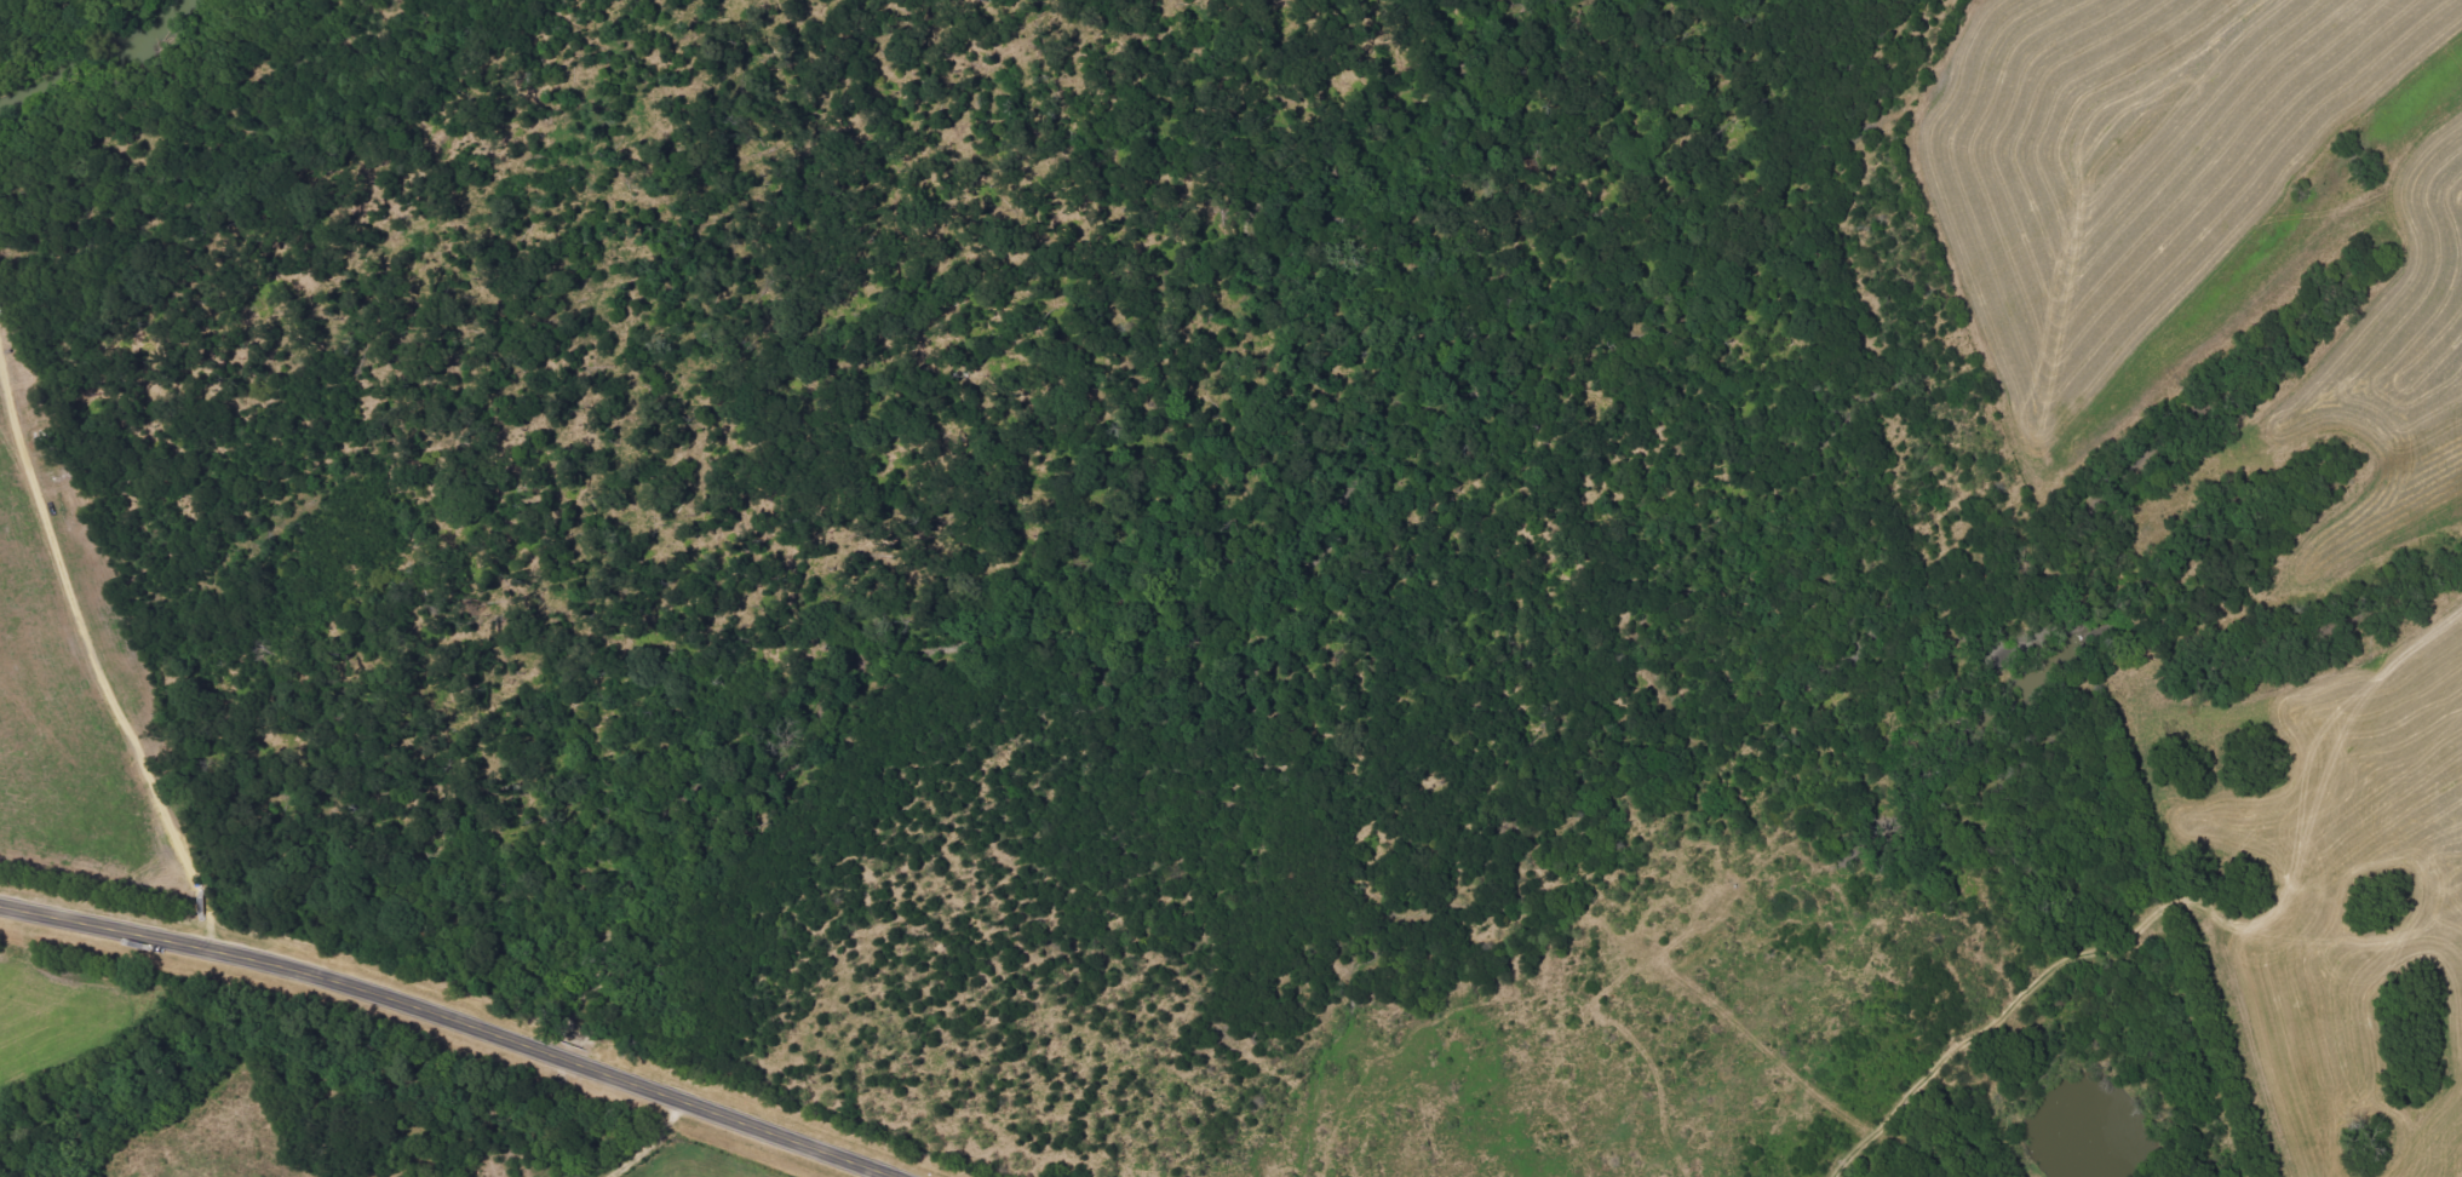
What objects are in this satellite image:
road: (454, 1021)

